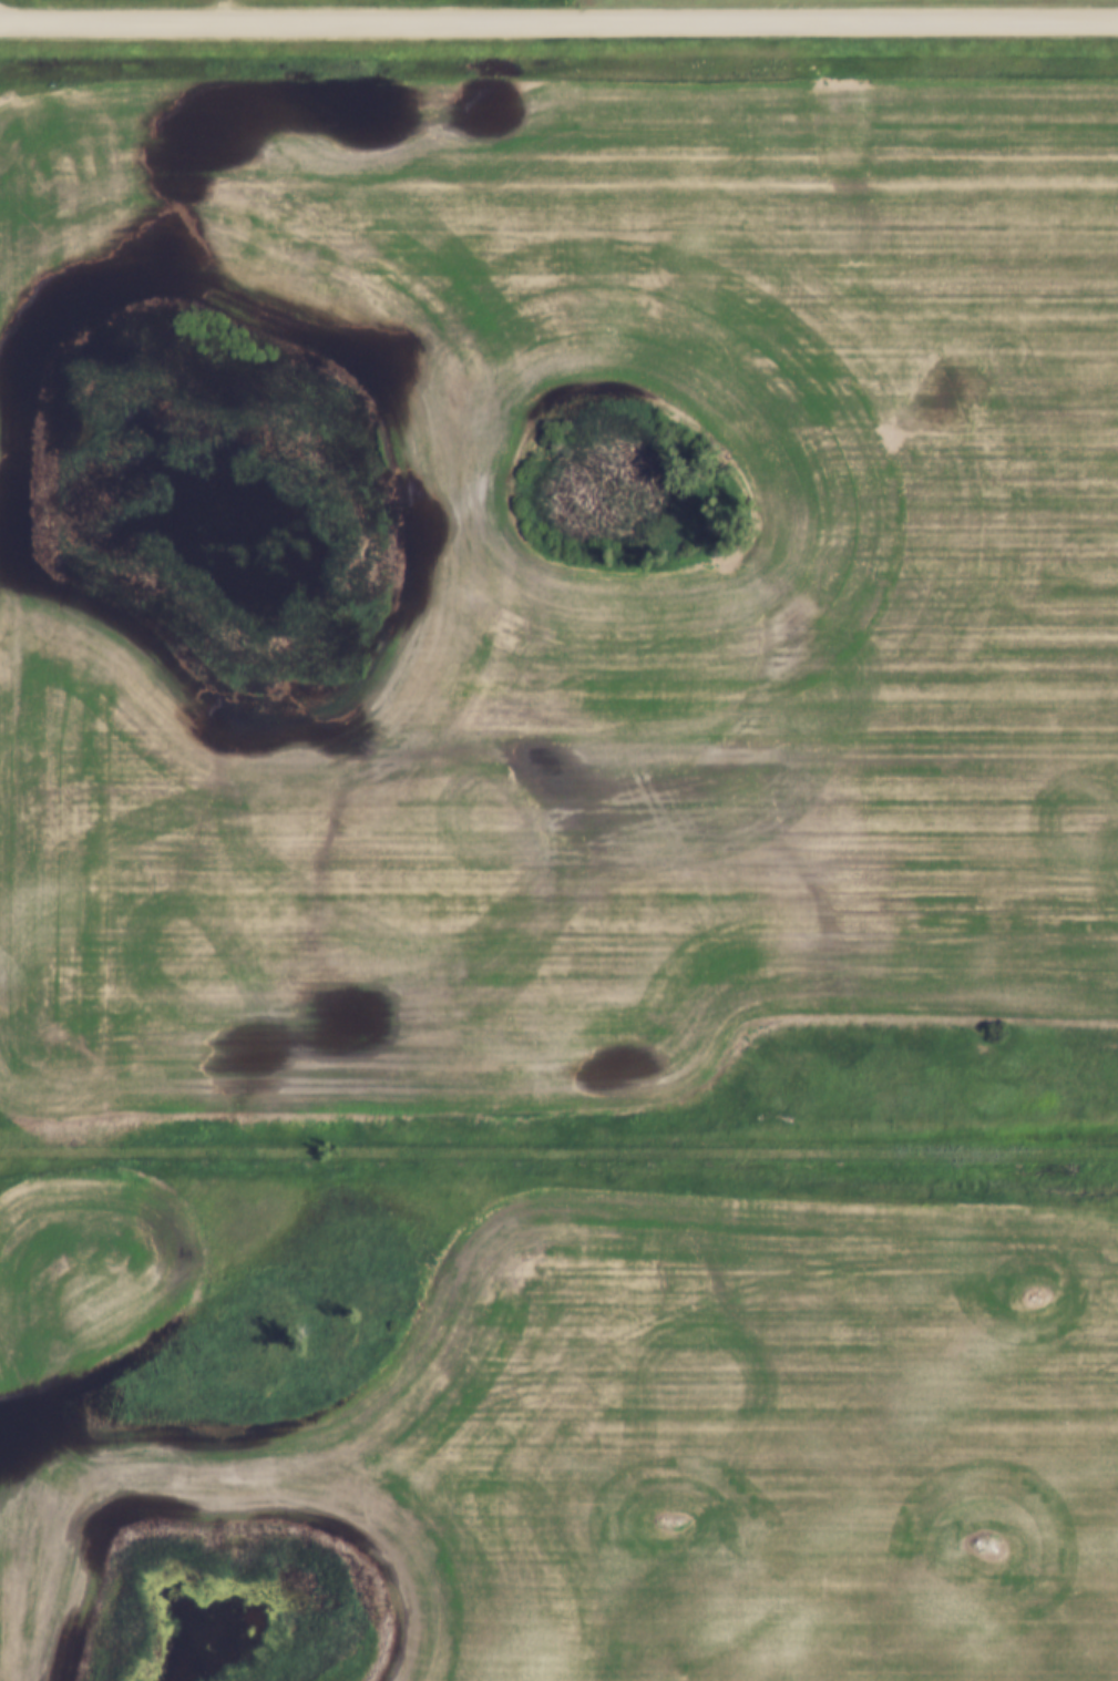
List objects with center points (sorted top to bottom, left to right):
road: (558, 21)

